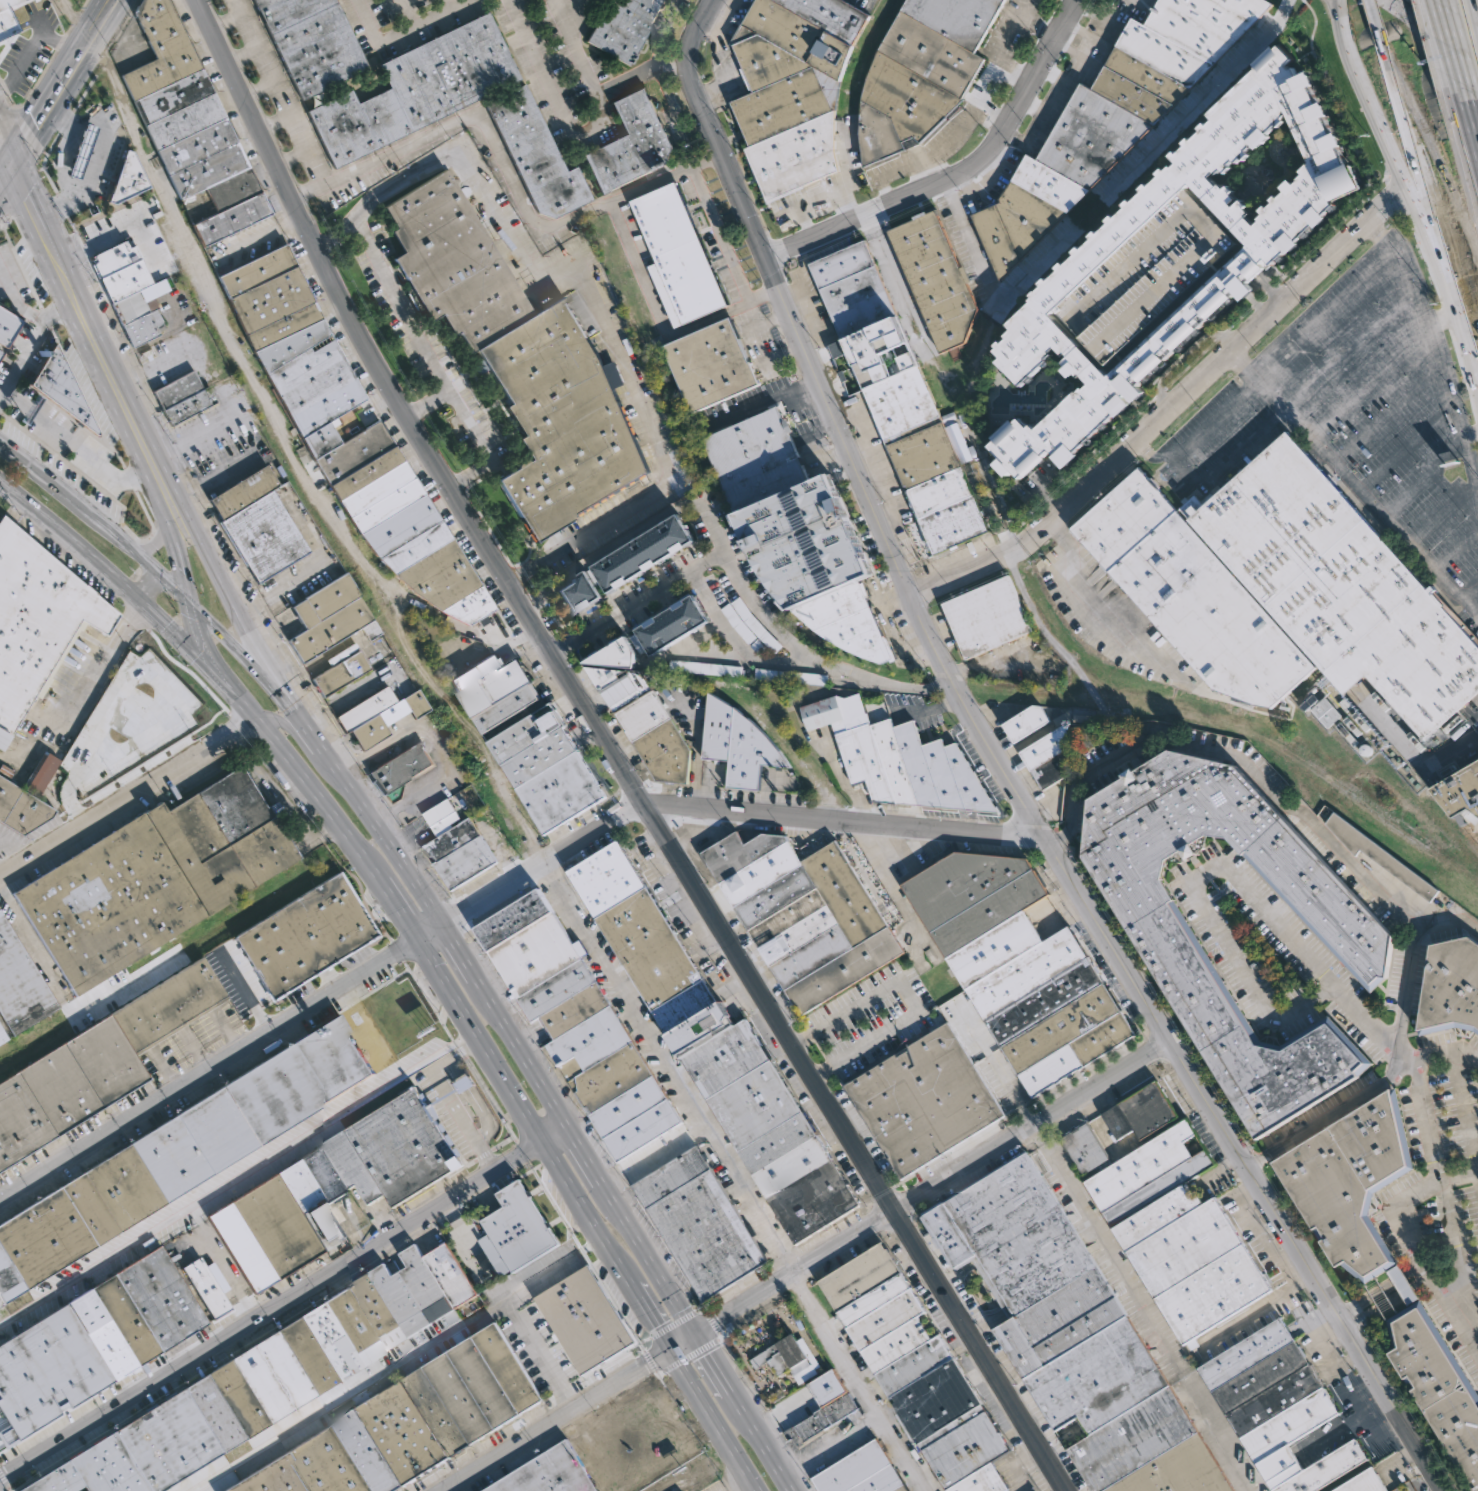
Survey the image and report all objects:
road: (1143, 2)
road: (1335, 4)
road: (1469, 4)
road: (1443, 14)
road: (1374, 16)
road: (223, 18)
building: (6, 19)
road: (75, 21)
road: (121, 24)
road: (1441, 24)
road: (1041, 26)
building: (625, 27)
road: (399, 31)
road: (94, 35)
building: (314, 43)
building: (161, 49)
road: (240, 54)
road: (1452, 64)
building: (922, 72)
road: (1014, 75)
road: (255, 84)
building: (794, 87)
road: (280, 91)
building: (417, 91)
road: (552, 94)
road: (599, 94)
road: (6, 95)
road: (1201, 103)
road: (1376, 114)
road: (46, 115)
building: (1114, 117)
road: (991, 118)
road: (6, 119)
road: (968, 119)
road: (1467, 120)
road: (273, 123)
road: (1403, 129)
road: (28, 134)
building: (632, 144)
road: (1415, 144)
road: (98, 147)
road: (1467, 150)
building: (82, 151)
gas station: (82, 151)
building: (203, 153)
building: (536, 154)
road: (288, 155)
traffic signals: (19, 159)
road: (61, 164)
road: (505, 164)
road: (11, 171)
road: (926, 176)
road: (959, 177)
road: (2, 178)
building: (127, 178)
road: (113, 180)
traffic signals: (4, 183)
road: (2, 186)
road: (107, 190)
road: (19, 197)
road: (4, 224)
road: (872, 224)
road: (121, 229)
road: (1378, 239)
road: (721, 248)
building: (672, 257)
road: (886, 257)
road: (1225, 259)
road: (88, 260)
building: (1242, 267)
road: (1243, 267)
building: (120, 270)
building: (1144, 276)
parking garage: (1144, 276)
building: (937, 281)
road: (1359, 285)
road: (1268, 287)
road: (591, 290)
road: (1464, 291)
road: (82, 296)
road: (655, 307)
road: (23, 309)
road: (1452, 309)
building: (140, 313)
road: (1435, 318)
road: (766, 320)
building: (8, 325)
road: (978, 347)
road: (1345, 349)
road: (85, 351)
road: (782, 353)
building: (1, 355)
road: (22, 359)
road: (431, 360)
building: (524, 360)
building: (712, 368)
road: (1363, 379)
building: (178, 389)
building: (60, 391)
building: (895, 396)
road: (13, 400)
road: (423, 400)
road: (766, 401)
building: (189, 405)
road: (1171, 408)
road: (27, 412)
road: (1385, 416)
building: (318, 430)
road: (1468, 434)
road: (198, 440)
road: (1403, 447)
road: (1230, 455)
road: (84, 456)
building: (758, 461)
road: (296, 463)
road: (125, 472)
road: (35, 474)
road: (1420, 475)
road: (1354, 481)
road: (1051, 500)
road: (1442, 513)
building: (259, 523)
road: (629, 535)
road: (111, 536)
road: (71, 541)
building: (810, 541)
road: (151, 545)
building: (1304, 549)
road: (1456, 549)
building: (643, 552)
road: (215, 574)
building: (595, 577)
road: (148, 586)
road: (745, 588)
building: (579, 593)
building: (1195, 596)
traffic signals: (188, 599)
road: (188, 602)
road: (1095, 606)
building: (333, 617)
building: (989, 617)
building: (38, 619)
road: (212, 621)
building: (849, 623)
building: (671, 624)
road: (181, 639)
building: (637, 643)
road: (738, 646)
road: (689, 651)
building: (616, 654)
road: (105, 661)
building: (1413, 662)
building: (706, 668)
building: (343, 673)
building: (790, 676)
building: (496, 691)
road: (240, 700)
building: (1323, 710)
building: (382, 714)
building: (645, 721)
building: (1023, 723)
road: (291, 725)
building: (3, 739)
building: (741, 744)
road: (1458, 748)
road: (697, 752)
road: (611, 755)
building: (1045, 757)
road: (1239, 757)
building: (902, 759)
building: (402, 767)
building: (549, 768)
road: (1004, 769)
building: (40, 773)
road: (313, 786)
building: (1459, 791)
road: (128, 795)
road: (401, 802)
building: (22, 808)
road: (726, 811)
road: (1054, 837)
building: (458, 846)
road: (12, 853)
building: (1373, 855)
road: (1222, 860)
building: (155, 879)
building: (972, 895)
road: (392, 898)
building: (807, 915)
building: (306, 936)
road: (432, 936)
building: (994, 949)
road: (35, 950)
building: (1172, 952)
railway: (163, 968)
building: (1448, 984)
building: (20, 985)
road: (246, 994)
road: (906, 994)
building: (1050, 1003)
building: (581, 1024)
road: (1401, 1035)
building: (2, 1036)
building: (718, 1049)
building: (98, 1063)
road: (209, 1073)
road: (536, 1077)
building: (925, 1099)
road: (517, 1104)
road: (1463, 1106)
building: (1141, 1111)
building: (1086, 1149)
building: (181, 1154)
road: (1255, 1161)
road: (736, 1174)
road: (1431, 1182)
building: (1346, 1183)
building: (335, 1188)
railway: (223, 1194)
road: (919, 1196)
road: (159, 1223)
building: (703, 1225)
building: (517, 1230)
building: (1178, 1234)
road: (1261, 1236)
road: (456, 1241)
road: (1396, 1277)
building: (1400, 1285)
road: (1405, 1292)
road: (1352, 1304)
road: (284, 1305)
road: (644, 1307)
road: (1144, 1309)
road: (1257, 1310)
building: (584, 1319)
road: (1361, 1319)
building: (105, 1333)
traffic signals: (698, 1336)
building: (1075, 1336)
traffic signals: (672, 1351)
building: (791, 1357)
road: (537, 1360)
building: (920, 1368)
railway: (385, 1376)
building: (269, 1377)
building: (1438, 1387)
road: (643, 1392)
building: (1277, 1402)
building: (821, 1407)
road: (555, 1419)
road: (640, 1419)
road: (712, 1421)
building: (409, 1423)
road: (681, 1436)
building: (652, 1438)
road: (593, 1448)
building: (865, 1472)
building: (551, 1473)
building: (1364, 1482)
railway: (689, 1486)

